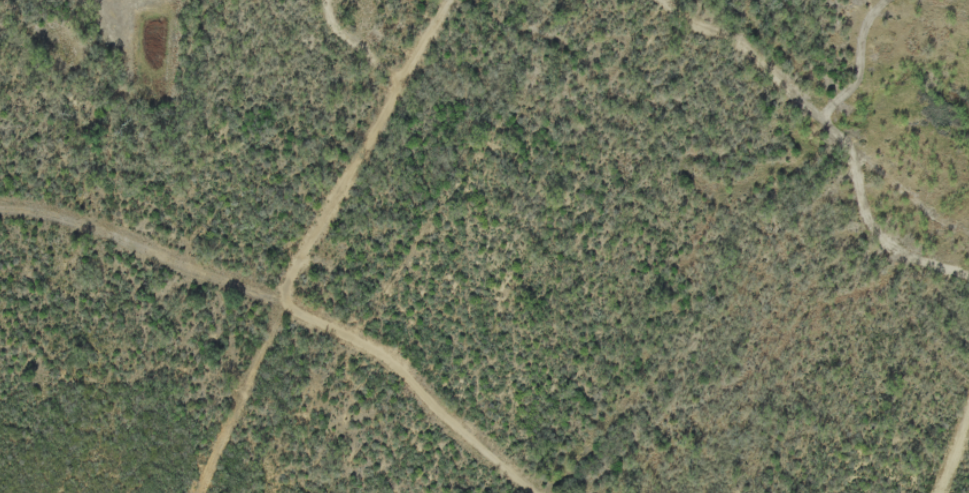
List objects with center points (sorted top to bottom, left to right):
road: (338, 243)

